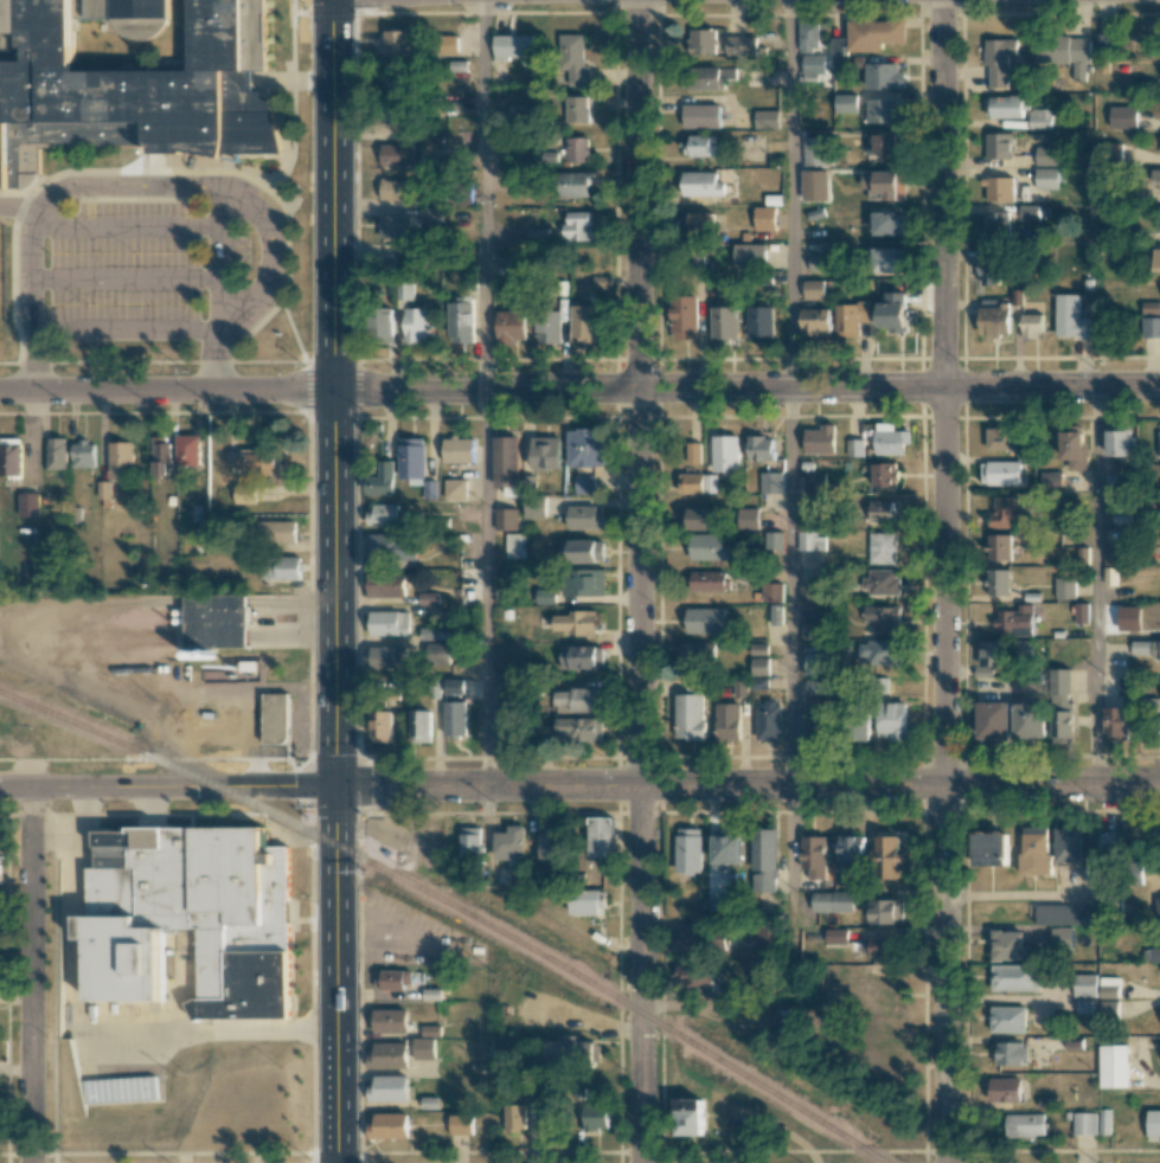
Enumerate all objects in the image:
building: (808, 36)
building: (870, 36)
building: (398, 41)
building: (701, 41)
building: (1107, 43)
building: (448, 44)
building: (744, 46)
building: (514, 47)
building: (1064, 53)
building: (573, 59)
building: (999, 60)
building: (459, 65)
building: (814, 68)
building: (883, 75)
building: (395, 76)
building: (711, 77)
building: (132, 88)
building: (845, 102)
building: (1005, 105)
building: (578, 108)
building: (882, 110)
building: (521, 114)
building: (701, 116)
building: (1039, 117)
building: (1122, 117)
building: (765, 118)
building: (434, 137)
building: (700, 146)
building: (887, 146)
building: (998, 146)
building: (578, 149)
building: (815, 150)
building: (1159, 150)
building: (1109, 153)
building: (397, 154)
building: (1045, 155)
building: (1046, 178)
building: (1155, 179)
building: (576, 184)
building: (703, 184)
building: (885, 184)
building: (815, 185)
road: (121, 188)
building: (998, 188)
building: (397, 189)
road: (331, 193)
road: (789, 193)
road: (943, 193)
road: (485, 194)
road: (637, 194)
building: (460, 197)
road: (19, 212)
building: (1027, 212)
building: (429, 213)
building: (764, 218)
building: (701, 221)
building: (887, 223)
building: (996, 224)
building: (578, 225)
road: (126, 226)
building: (396, 226)
building: (539, 234)
building: (750, 253)
road: (271, 257)
building: (1158, 258)
building: (889, 259)
building: (818, 262)
building: (989, 270)
parking lot: (128, 277)
road: (123, 278)
building: (602, 281)
road: (216, 288)
building: (814, 289)
building: (406, 290)
road: (31, 301)
building: (1152, 307)
building: (892, 313)
building: (685, 316)
building: (852, 317)
building: (1071, 317)
building: (461, 320)
building: (994, 320)
building: (815, 321)
building: (584, 322)
building: (725, 322)
building: (761, 322)
building: (384, 323)
building: (419, 325)
building: (1031, 325)
building: (512, 326)
building: (550, 327)
building: (1151, 327)
road: (123, 330)
road: (745, 387)
road: (166, 388)
building: (1000, 438)
building: (820, 439)
building: (890, 439)
building: (1117, 442)
building: (1159, 443)
building: (585, 446)
building: (1074, 446)
building: (761, 448)
building: (853, 448)
building: (188, 449)
building: (459, 449)
building: (56, 452)
building: (546, 452)
building: (692, 452)
building: (83, 454)
building: (725, 454)
building: (161, 455)
building: (11, 456)
building: (412, 457)
building: (121, 458)
building: (506, 462)
building: (1000, 473)
building: (884, 474)
building: (383, 480)
building: (1050, 481)
building: (697, 482)
building: (771, 482)
building: (815, 482)
building: (584, 483)
building: (104, 489)
building: (456, 489)
building: (245, 493)
building: (28, 503)
building: (536, 507)
building: (882, 510)
building: (1007, 512)
building: (385, 514)
building: (584, 516)
building: (746, 518)
building: (506, 519)
building: (698, 519)
building: (275, 531)
building: (774, 540)
building: (810, 540)
building: (515, 545)
building: (392, 546)
building: (707, 546)
building: (998, 546)
building: (883, 547)
building: (582, 551)
building: (1110, 554)
building: (281, 567)
building: (709, 580)
building: (584, 581)
building: (880, 581)
building: (998, 581)
building: (386, 584)
road: (1096, 585)
road: (487, 586)
road: (792, 586)
building: (1065, 587)
building: (773, 592)
building: (807, 593)
building: (546, 596)
building: (428, 597)
building: (1081, 612)
building: (776, 615)
building: (884, 617)
building: (706, 619)
building: (217, 621)
building: (1017, 621)
building: (575, 622)
building: (389, 623)
building: (809, 630)
building: (434, 632)
building: (1146, 648)
building: (438, 653)
building: (879, 653)
building: (698, 655)
building: (384, 656)
building: (582, 656)
building: (991, 657)
building: (815, 662)
building: (760, 667)
building: (758, 682)
building: (1126, 686)
building: (818, 687)
building: (739, 688)
building: (581, 700)
building: (1063, 706)
building: (690, 715)
building: (275, 717)
building: (455, 718)
building: (769, 720)
building: (892, 720)
building: (995, 720)
building: (728, 721)
building: (1031, 721)
building: (1117, 722)
building: (382, 726)
building: (421, 726)
building: (508, 726)
building: (809, 727)
building: (581, 728)
building: (860, 730)
road: (334, 775)
road: (943, 775)
road: (639, 776)
road: (579, 784)
traffic signals: (335, 786)
road: (55, 829)
building: (601, 836)
building: (1108, 841)
building: (511, 842)
building: (472, 843)
building: (1068, 844)
building: (551, 847)
building: (991, 848)
building: (726, 849)
building: (690, 850)
building: (1036, 850)
building: (852, 852)
building: (814, 856)
building: (891, 857)
building: (764, 860)
building: (589, 901)
building: (832, 901)
building: (1158, 905)
railway: (454, 907)
building: (886, 910)
building: (1064, 914)
building: (188, 917)
building: (837, 936)
building: (1062, 937)
building: (694, 938)
building: (767, 938)
building: (1007, 945)
building: (883, 946)
building: (1151, 955)
road: (789, 968)
road: (31, 975)
building: (694, 975)
building: (1013, 977)
building: (393, 978)
building: (1084, 985)
building: (1108, 987)
building: (431, 994)
building: (1008, 1019)
building: (391, 1020)
road: (86, 1024)
building: (431, 1030)
building: (424, 1048)
building: (572, 1048)
building: (1012, 1053)
building: (389, 1055)
building: (1114, 1066)
building: (389, 1088)
building: (1008, 1088)
building: (429, 1101)
building: (515, 1117)
building: (688, 1117)
building: (550, 1118)
building: (1104, 1120)
building: (1084, 1123)
building: (1154, 1123)
building: (461, 1124)
building: (390, 1125)
building: (1025, 1125)

